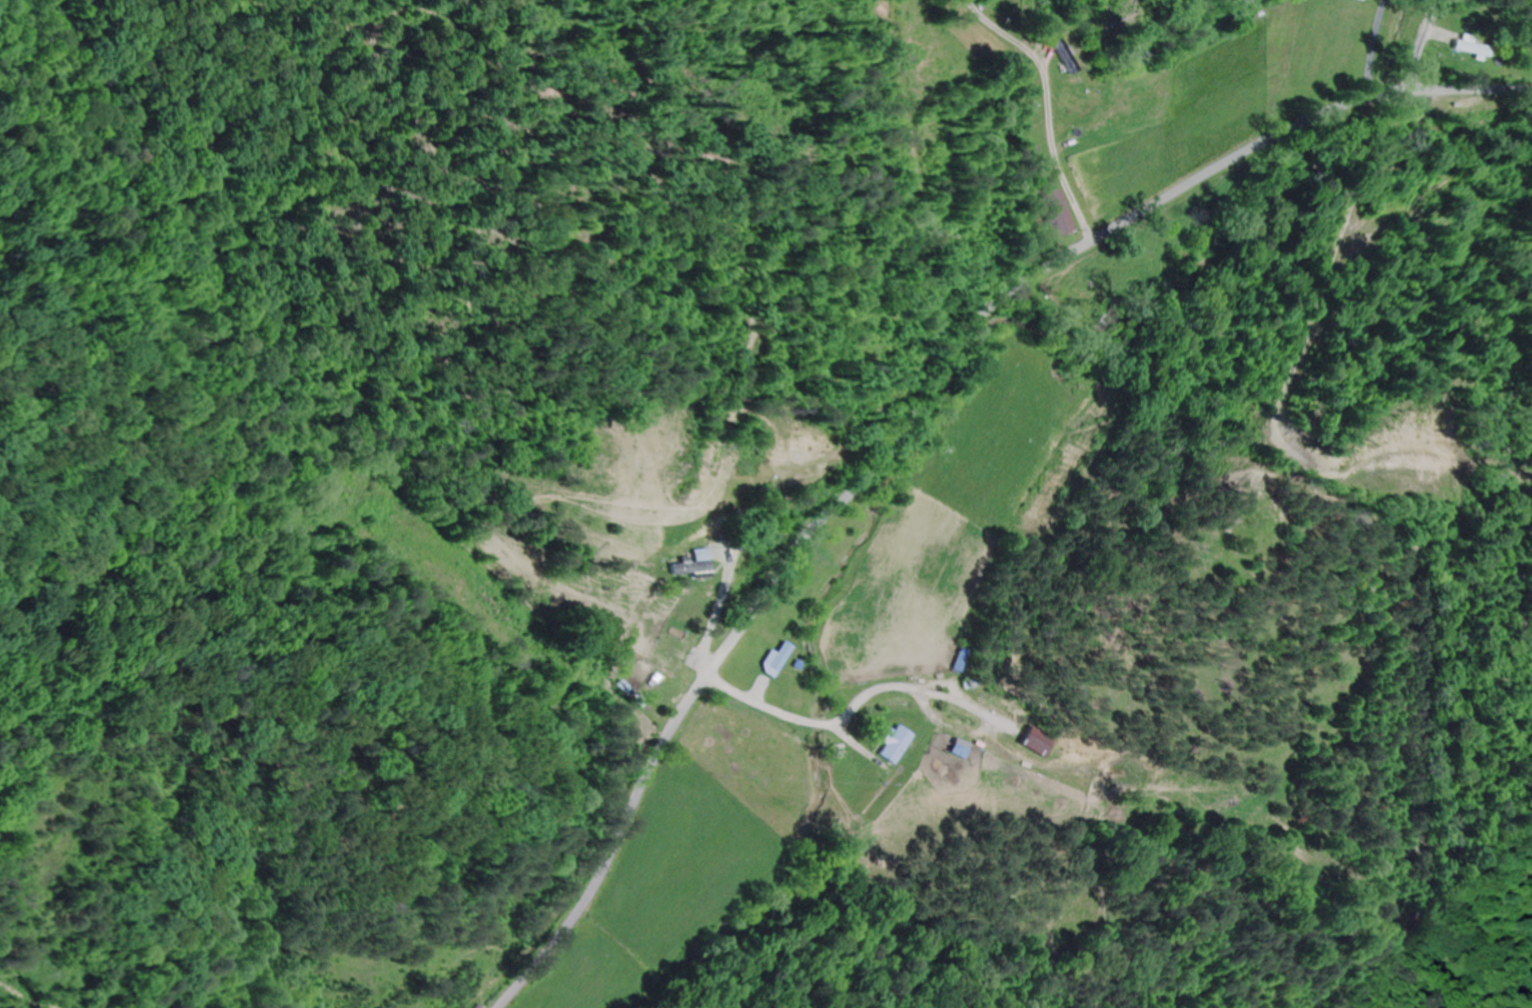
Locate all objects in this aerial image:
road: (1422, 43)
building: (1474, 47)
building: (1067, 56)
road: (918, 416)
building: (687, 564)
building: (1037, 742)
building: (894, 745)
road: (991, 764)

